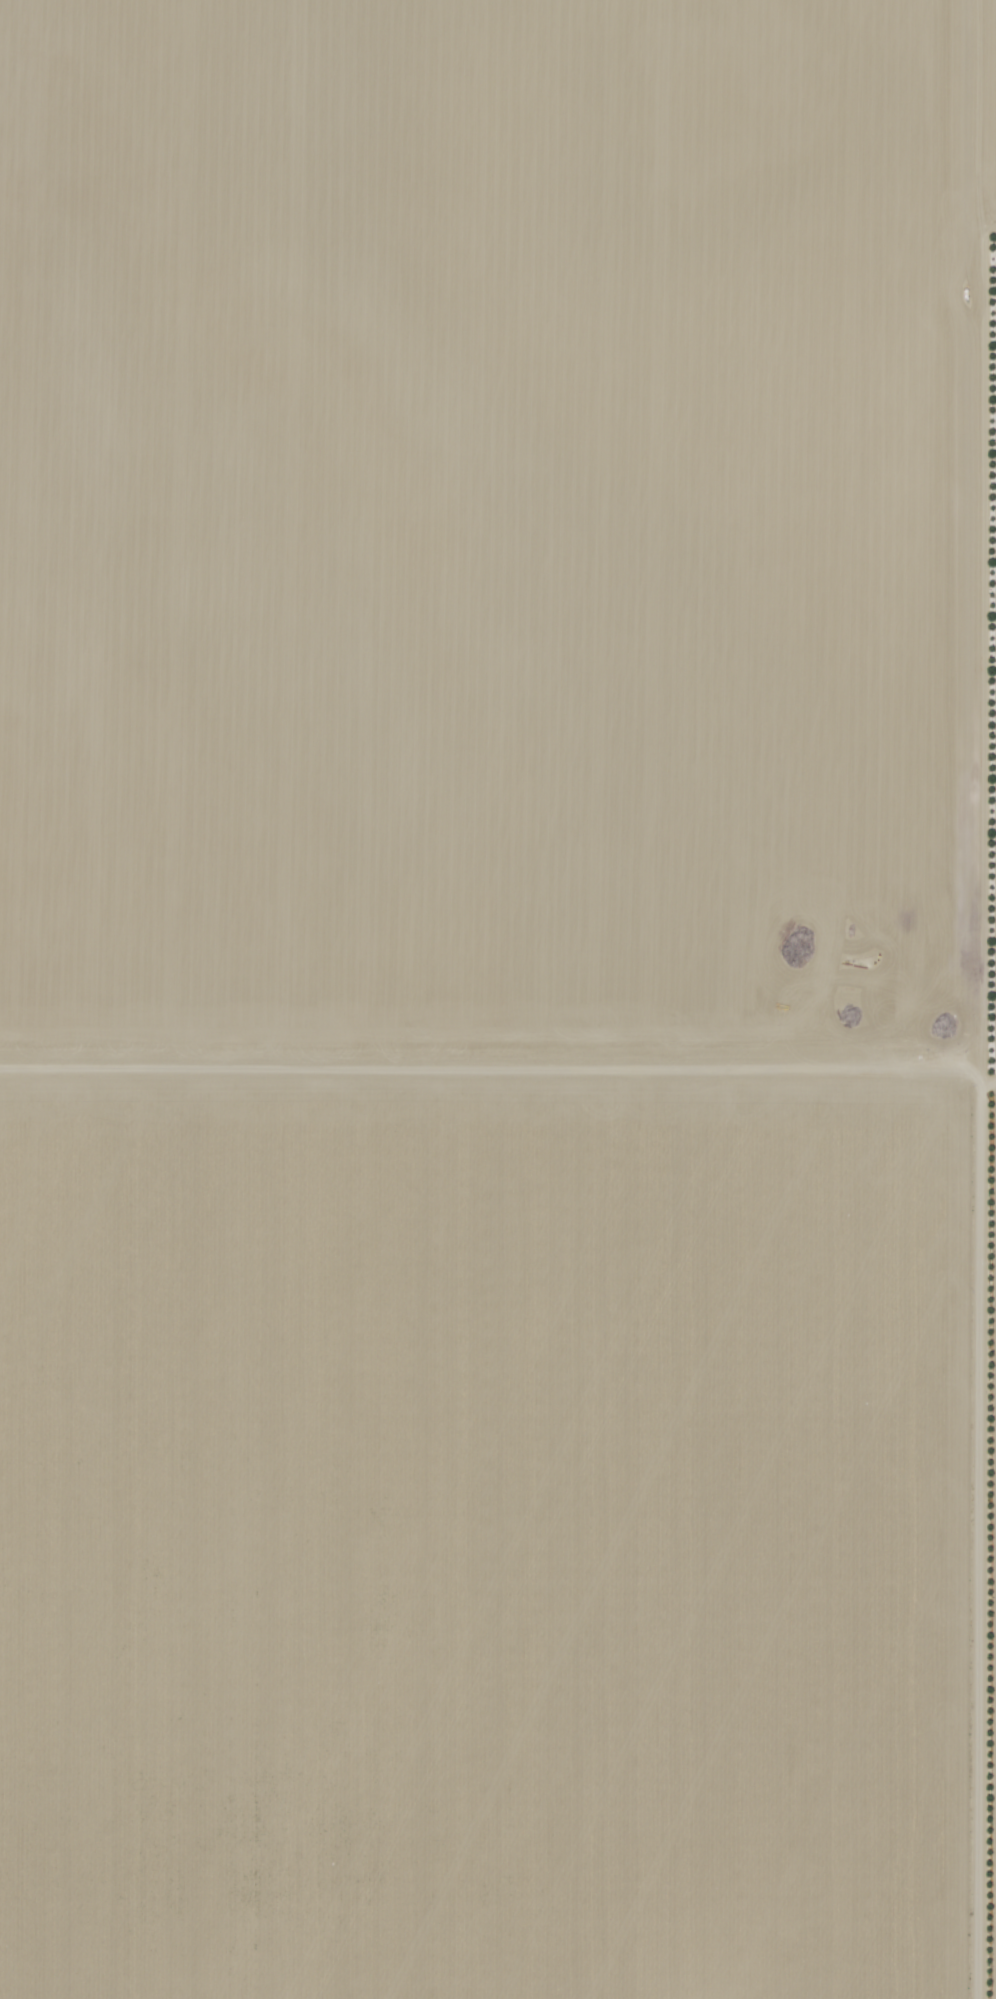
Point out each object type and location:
crop: (490, 537)
road: (498, 1077)
crop: (484, 1537)

